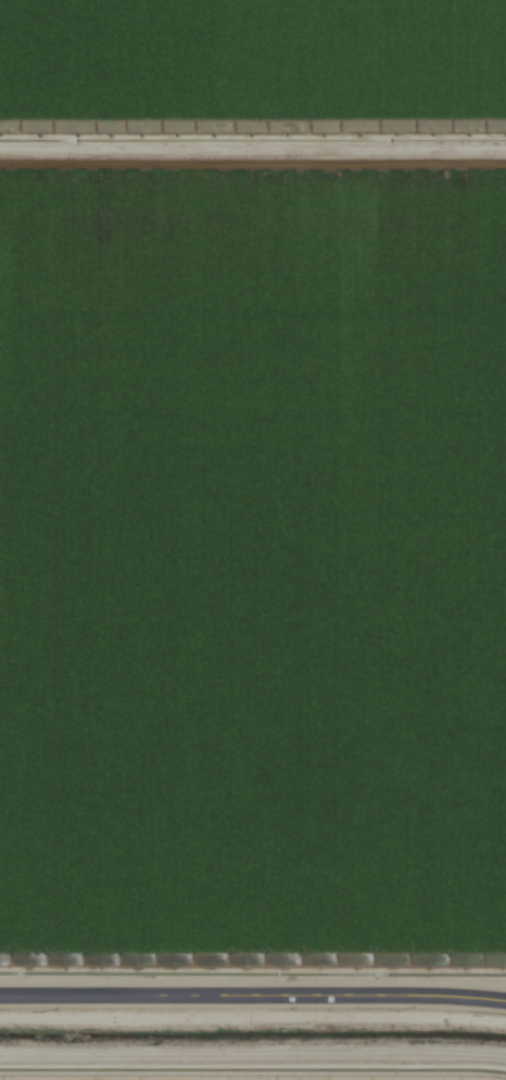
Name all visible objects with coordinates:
road: (253, 976)

